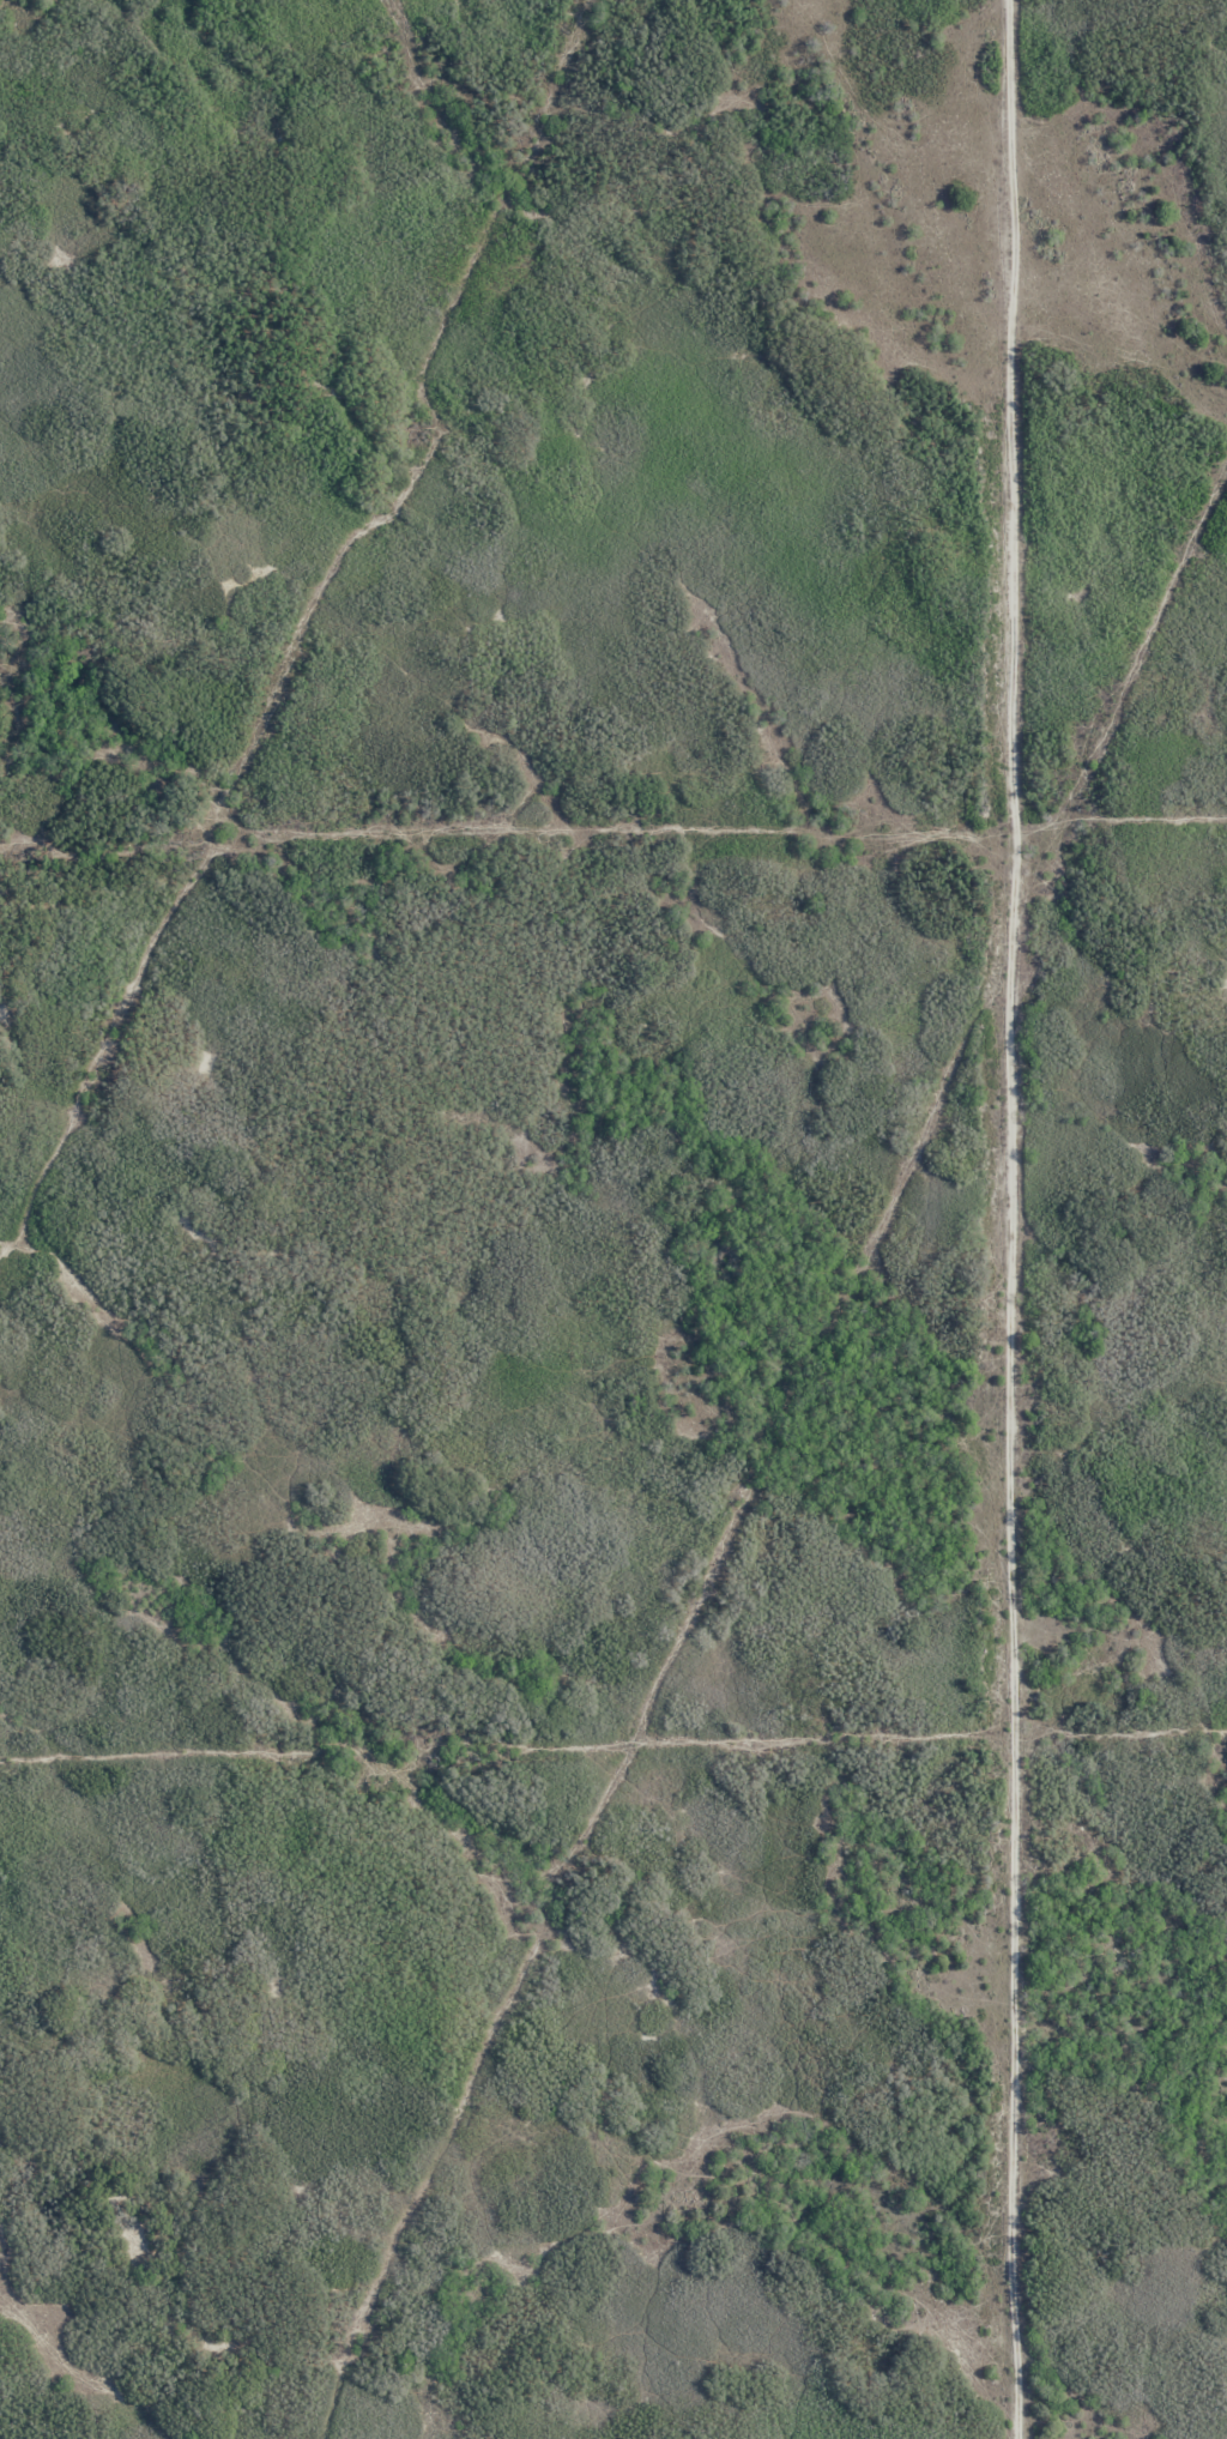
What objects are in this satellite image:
road: (1010, 1219)

